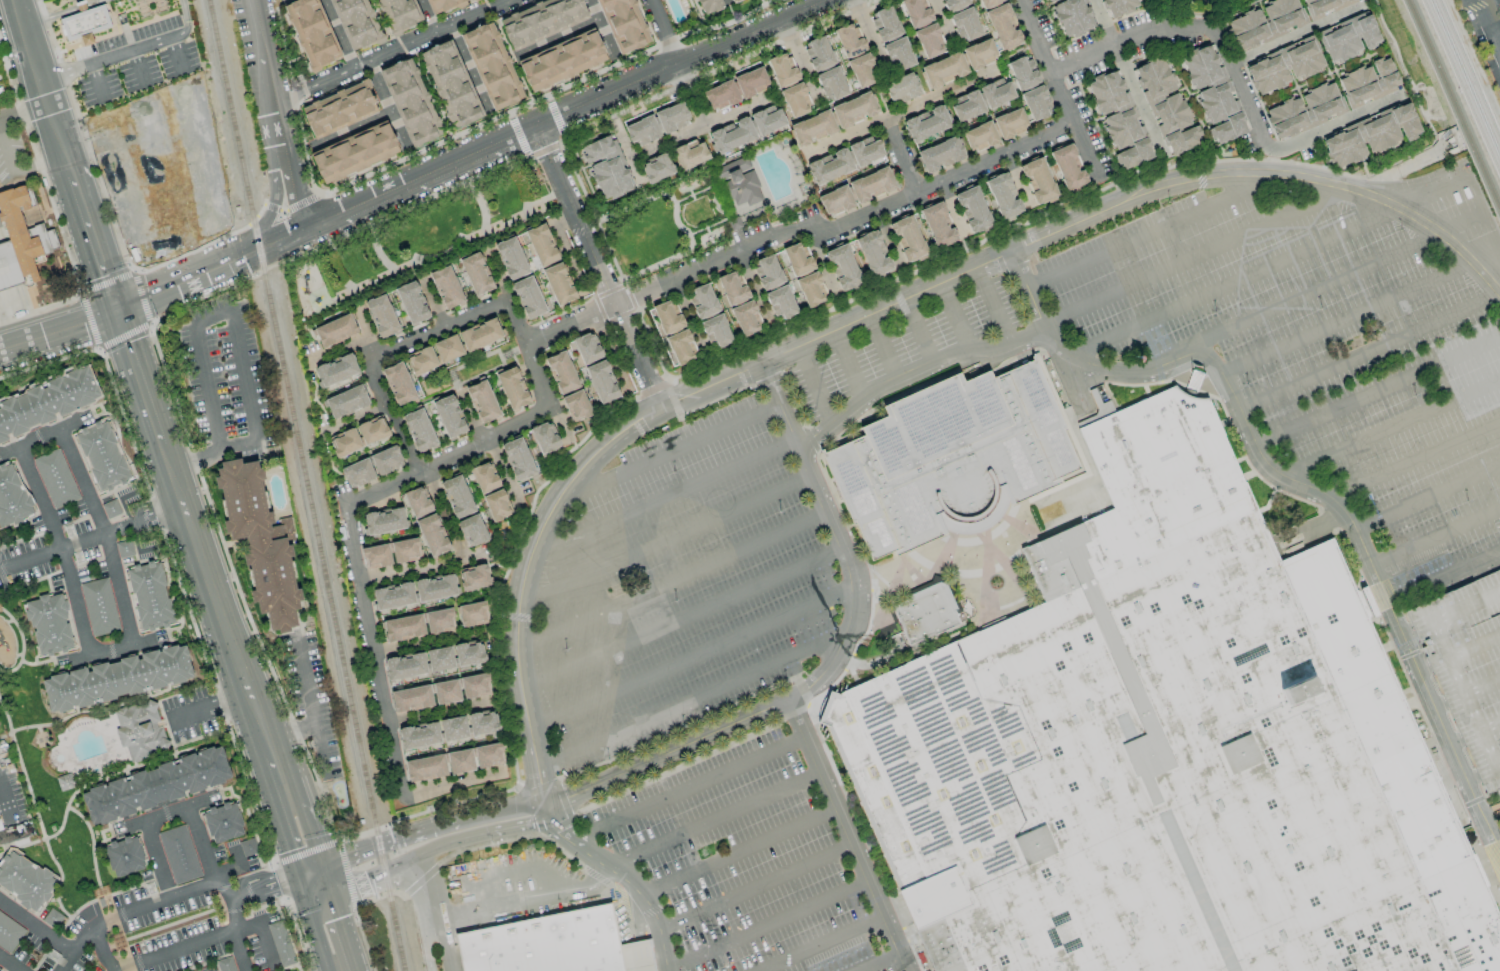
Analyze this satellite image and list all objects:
building: (472, 0)
building: (730, 1)
parking lot: (283, 2)
road: (726, 3)
building: (988, 3)
building: (953, 4)
building: (442, 5)
building: (707, 6)
building: (1117, 6)
building: (1323, 6)
park: (1202, 7)
building: (915, 12)
road: (61, 13)
building: (399, 14)
building: (1071, 16)
road: (425, 17)
building: (540, 19)
building: (83, 22)
road: (187, 22)
building: (1266, 22)
building: (356, 23)
building: (885, 23)
building: (965, 23)
building: (623, 24)
road: (942, 24)
road: (1488, 26)
building: (1003, 27)
road: (598, 30)
building: (312, 32)
road: (437, 32)
road: (661, 32)
road: (751, 32)
road: (335, 35)
road: (1297, 36)
building: (1348, 37)
road: (868, 39)
road: (1129, 39)
road: (553, 40)
building: (849, 40)
building: (928, 40)
building: (818, 53)
building: (979, 53)
road: (178, 54)
building: (898, 54)
park: (1416, 56)
road: (105, 60)
building: (562, 60)
road: (800, 64)
building: (492, 66)
road: (140, 67)
building: (782, 69)
building: (861, 69)
building: (943, 70)
road: (468, 71)
railway: (1467, 72)
building: (1023, 73)
road: (1127, 80)
building: (751, 81)
building: (1368, 82)
road: (319, 83)
building: (831, 83)
road: (98, 84)
building: (902, 87)
railway: (1461, 87)
road: (39, 88)
building: (995, 92)
road: (1057, 92)
road: (1242, 92)
building: (1213, 94)
building: (721, 95)
road: (605, 96)
road: (690, 96)
building: (795, 99)
building: (410, 101)
building: (1036, 102)
railway: (1452, 104)
building: (966, 105)
building: (1166, 106)
road: (385, 108)
building: (339, 109)
building: (853, 109)
building: (1305, 110)
road: (23, 113)
road: (900, 114)
road: (276, 115)
building: (671, 116)
building: (1118, 118)
building: (767, 120)
building: (1009, 122)
building: (926, 123)
road: (1338, 124)
building: (812, 128)
road: (698, 129)
building: (641, 130)
road: (347, 131)
building: (731, 135)
building: (1369, 135)
building: (979, 136)
building: (865, 151)
building: (354, 152)
road: (625, 154)
building: (690, 154)
building: (940, 154)
road: (903, 157)
building: (829, 166)
building: (606, 167)
building: (1068, 167)
building: (656, 168)
road: (17, 170)
road: (437, 170)
road: (1395, 171)
building: (1038, 181)
building: (738, 182)
road: (1017, 184)
building: (871, 185)
road: (1480, 195)
building: (1003, 196)
building: (835, 200)
road: (275, 207)
building: (972, 209)
road: (952, 213)
building: (938, 225)
park: (665, 227)
road: (845, 227)
road: (1433, 231)
road: (300, 232)
road: (1155, 234)
building: (908, 237)
building: (21, 241)
road: (887, 242)
road: (93, 243)
park: (418, 243)
building: (541, 245)
road: (562, 252)
building: (873, 253)
building: (511, 258)
road: (1196, 258)
building: (797, 260)
road: (820, 267)
building: (843, 267)
road: (1270, 267)
road: (596, 268)
building: (768, 272)
building: (476, 274)
road: (1340, 279)
road: (187, 281)
road: (106, 282)
building: (558, 284)
building: (446, 287)
building: (732, 287)
building: (811, 289)
road: (752, 291)
road: (1028, 295)
road: (140, 297)
building: (528, 297)
road: (905, 299)
building: (702, 301)
building: (412, 302)
building: (781, 302)
road: (429, 305)
road: (40, 306)
road: (991, 307)
traffic signals: (117, 312)
building: (381, 316)
building: (667, 317)
building: (746, 318)
road: (953, 318)
road: (687, 319)
road: (88, 320)
road: (1347, 321)
road: (203, 324)
road: (568, 327)
road: (369, 328)
building: (335, 330)
road: (515, 330)
building: (716, 330)
road: (439, 331)
road: (58, 332)
road: (916, 332)
road: (123, 334)
building: (480, 334)
building: (681, 347)
building: (447, 348)
building: (587, 348)
road: (880, 348)
road: (340, 353)
road: (611, 353)
road: (1369, 353)
building: (421, 361)
road: (845, 366)
building: (336, 370)
building: (561, 372)
road: (139, 378)
parking lot: (227, 379)
building: (601, 381)
building: (398, 383)
road: (812, 387)
building: (512, 388)
road: (1377, 393)
building: (46, 402)
building: (346, 402)
building: (482, 402)
building: (576, 405)
road: (390, 416)
building: (449, 416)
road: (1241, 416)
road: (471, 418)
road: (356, 421)
building: (372, 430)
building: (419, 430)
road: (1390, 430)
road: (38, 436)
building: (544, 437)
building: (345, 442)
building: (102, 455)
road: (667, 456)
building: (517, 459)
building: (949, 459)
building: (386, 460)
road: (196, 462)
road: (1415, 462)
building: (358, 473)
road: (506, 476)
building: (484, 477)
building: (55, 478)
railway: (306, 485)
building: (457, 496)
building: (12, 497)
road: (1427, 500)
building: (417, 501)
road: (662, 501)
building: (497, 505)
building: (110, 508)
road: (449, 517)
building: (384, 520)
building: (472, 530)
road: (103, 533)
building: (432, 534)
road: (90, 536)
road: (1435, 539)
road: (350, 542)
road: (662, 544)
building: (261, 545)
road: (61, 547)
building: (124, 548)
building: (405, 550)
building: (376, 556)
road: (427, 572)
building: (475, 577)
road: (1443, 578)
road: (669, 584)
fountain: (994, 584)
building: (435, 587)
building: (149, 595)
building: (393, 596)
road: (213, 600)
building: (99, 607)
building: (472, 614)
building: (923, 615)
building: (439, 620)
road: (679, 622)
building: (49, 624)
building: (403, 627)
road: (433, 644)
road: (105, 650)
building: (468, 654)
building: (440, 658)
road: (688, 661)
road: (830, 664)
building: (405, 666)
building: (1468, 667)
parking lot: (1468, 667)
building: (117, 678)
building: (474, 685)
road: (518, 685)
building: (446, 691)
building: (411, 698)
road: (690, 704)
road: (212, 707)
road: (314, 708)
road: (440, 715)
building: (482, 722)
building: (453, 728)
building: (139, 729)
road: (292, 733)
building: (419, 735)
building: (1164, 751)
building: (488, 755)
building: (460, 761)
building: (425, 768)
road: (452, 784)
building: (155, 785)
road: (686, 790)
road: (168, 812)
road: (7, 813)
road: (291, 814)
road: (1491, 814)
building: (223, 822)
road: (712, 822)
road: (426, 830)
road: (482, 835)
road: (843, 837)
road: (201, 844)
building: (248, 847)
road: (586, 853)
building: (178, 854)
road: (736, 854)
road: (1499, 854)
building: (124, 856)
road: (159, 858)
traffic signals: (311, 877)
building: (24, 881)
road: (363, 881)
road: (421, 882)
road: (270, 889)
road: (753, 890)
road: (156, 901)
road: (518, 901)
road: (230, 903)
building: (52, 918)
road: (324, 924)
road: (656, 928)
road: (766, 928)
road: (36, 929)
building: (9, 933)
road: (439, 938)
road: (425, 939)
building: (280, 943)
building: (550, 946)
road: (823, 946)
road: (78, 948)
road: (102, 948)
road: (174, 949)
road: (238, 950)
road: (878, 963)
road: (9, 964)
building: (225, 964)
building: (0, 970)

